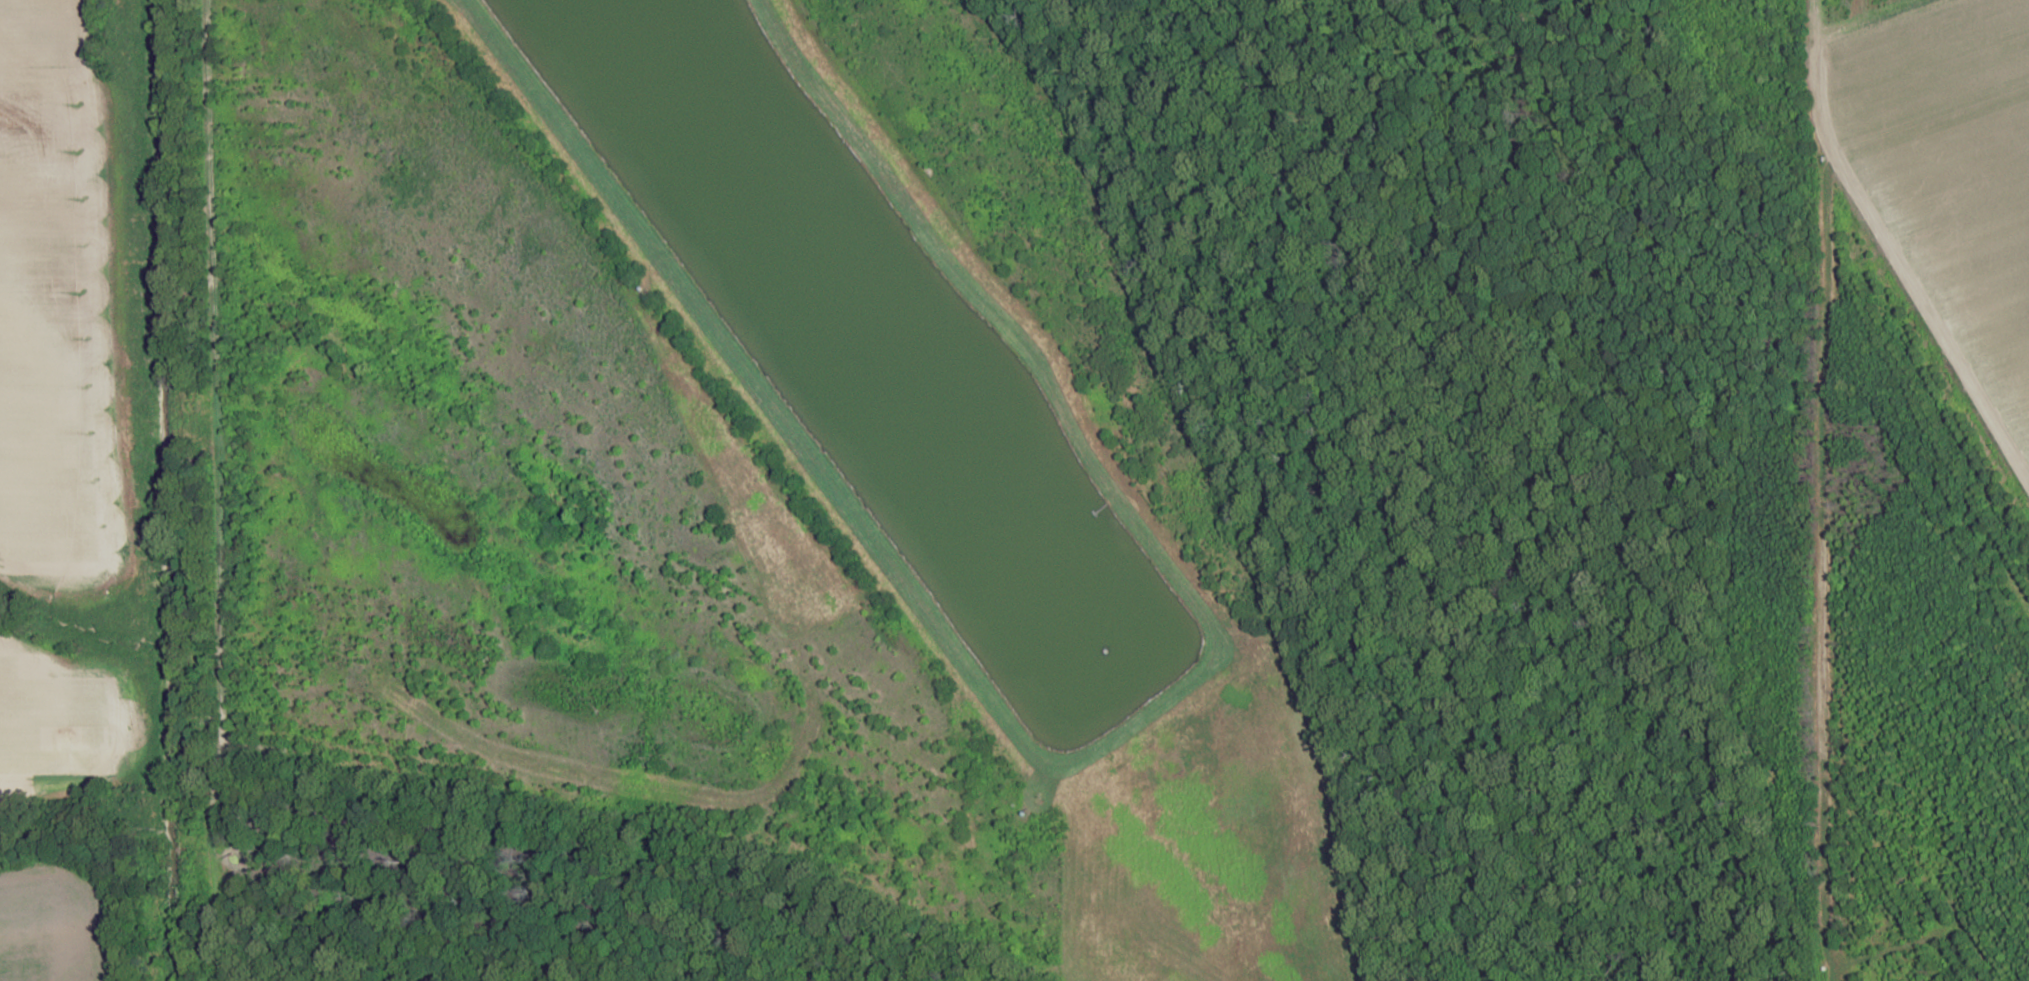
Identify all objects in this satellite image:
road: (1892, 252)
road: (1814, 542)

